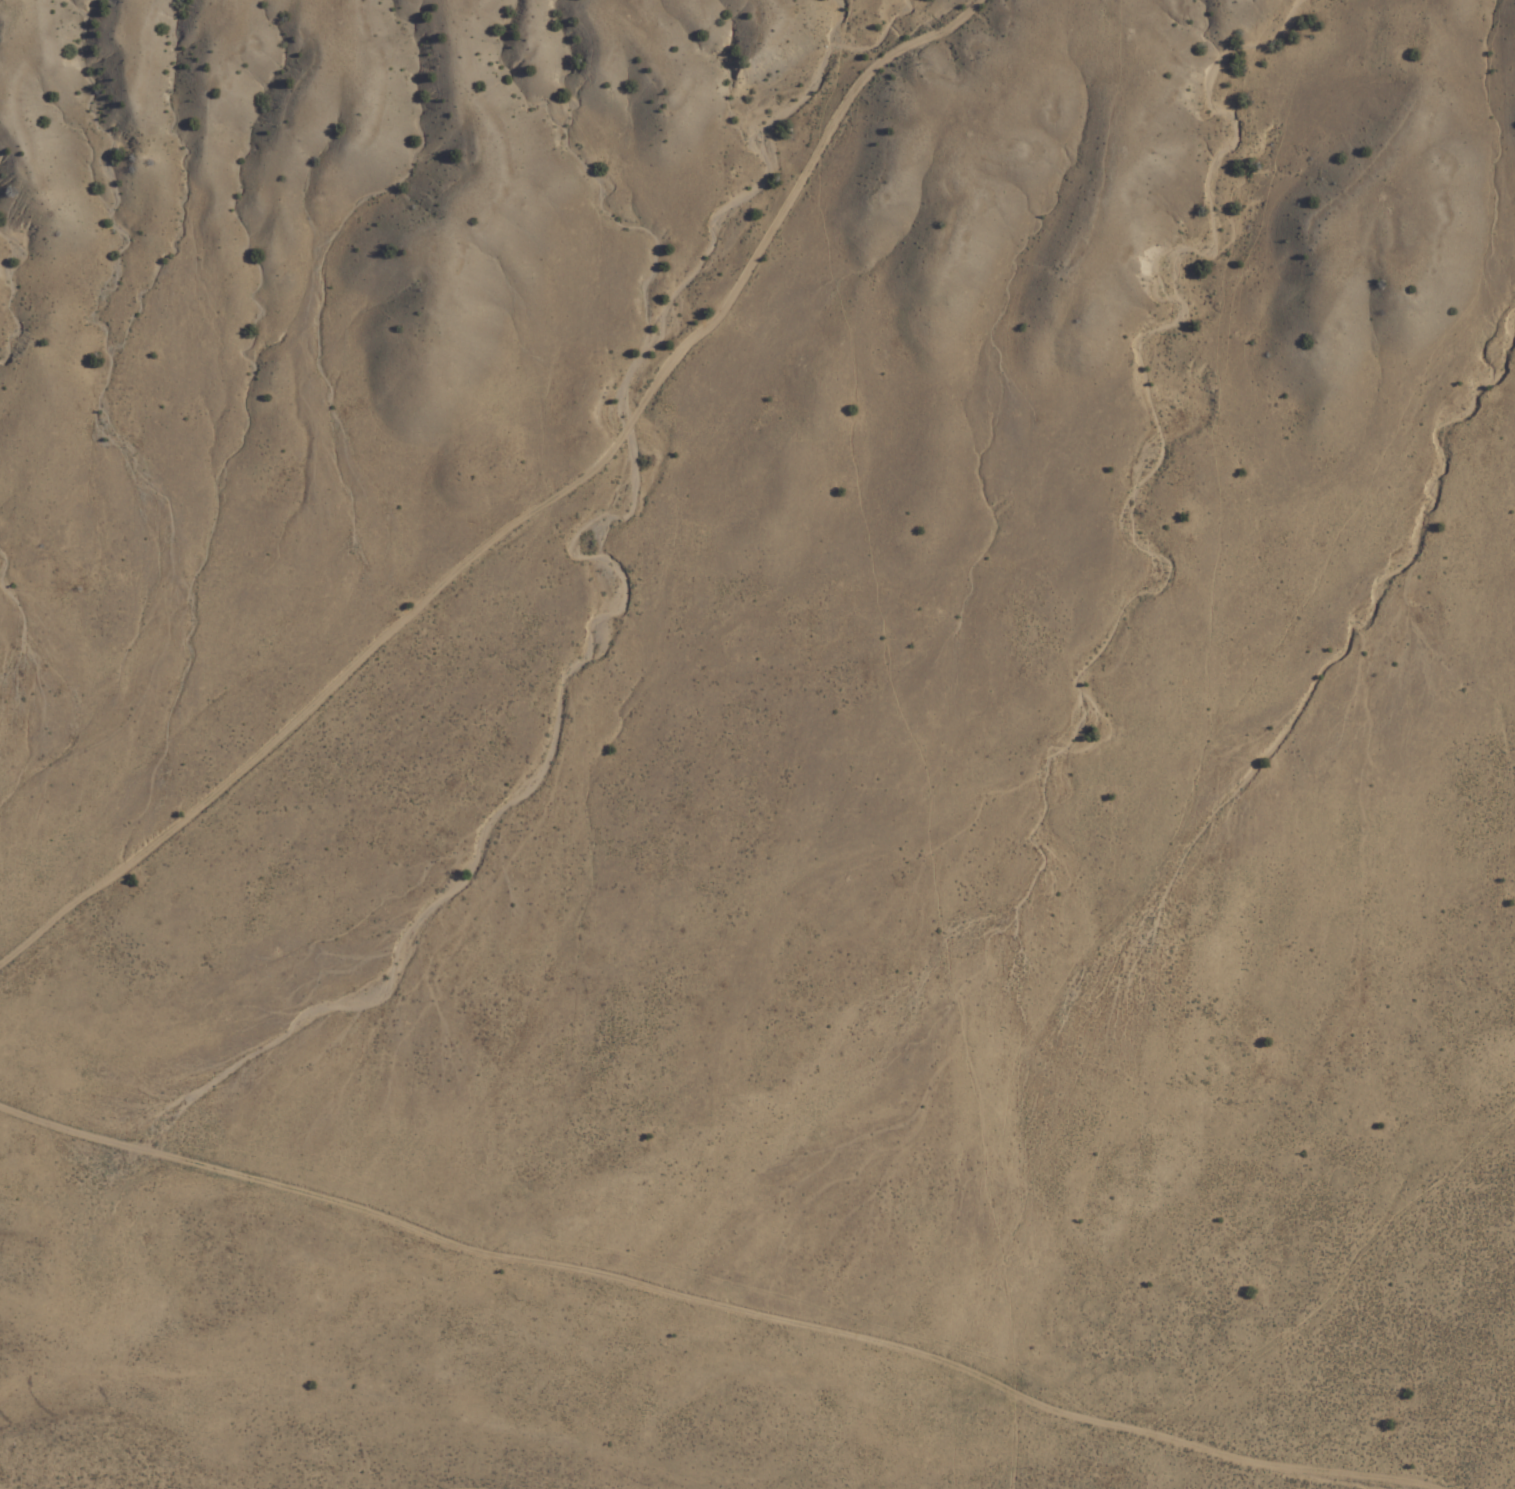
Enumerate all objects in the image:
road: (513, 554)
road: (738, 1326)

